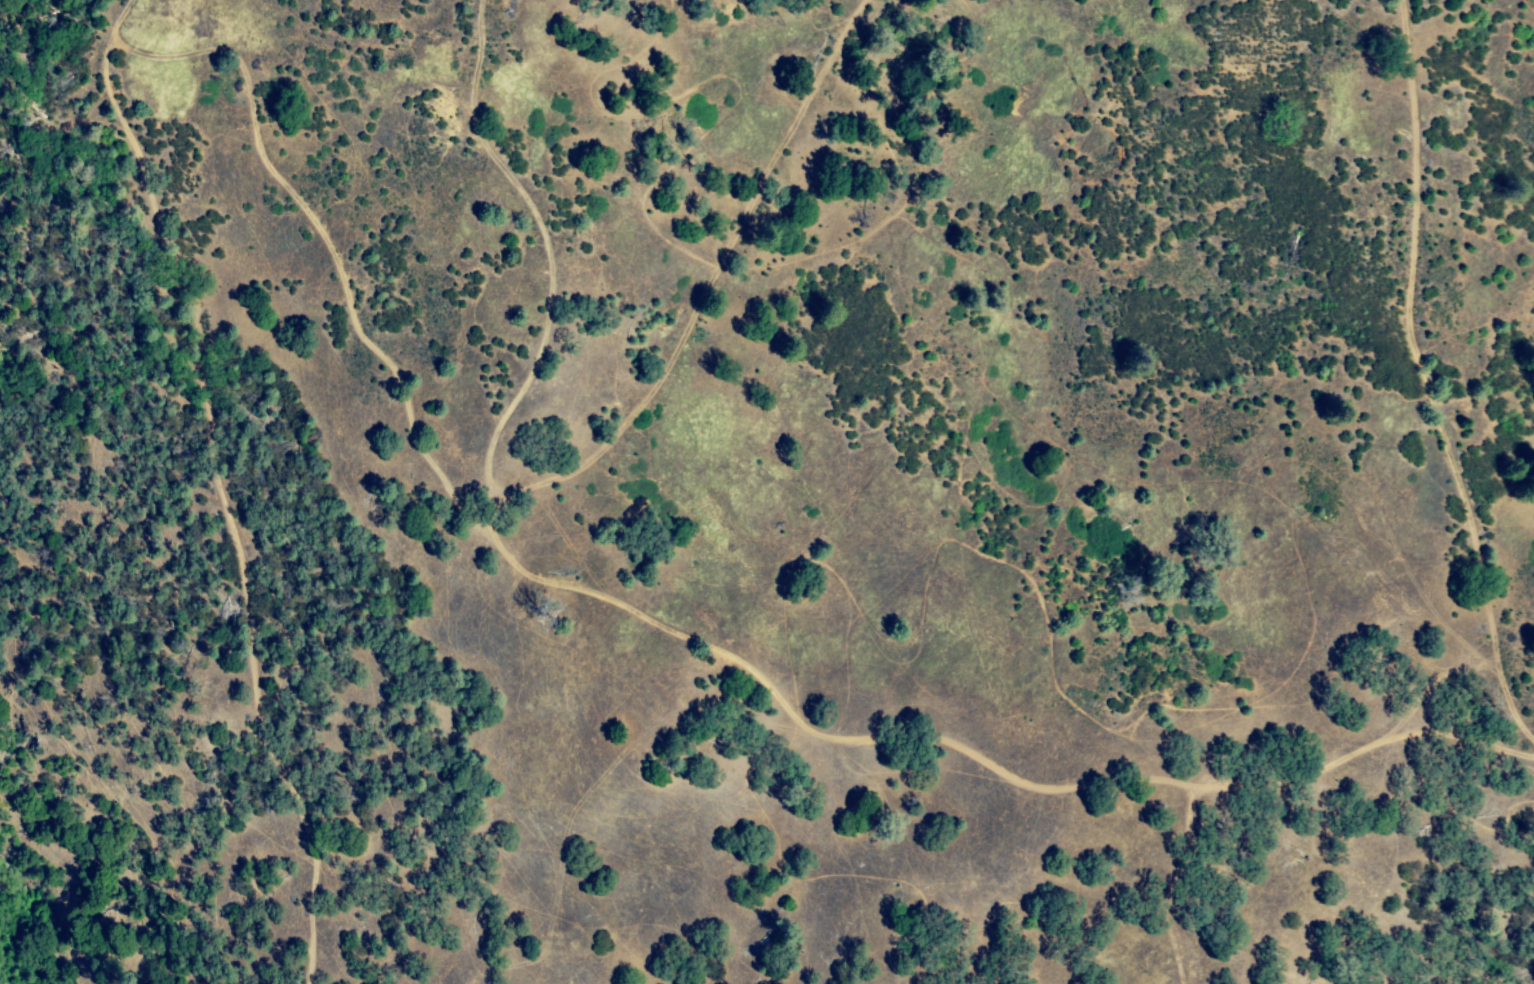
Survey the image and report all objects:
road: (225, 483)
road: (676, 634)
road: (1353, 753)

